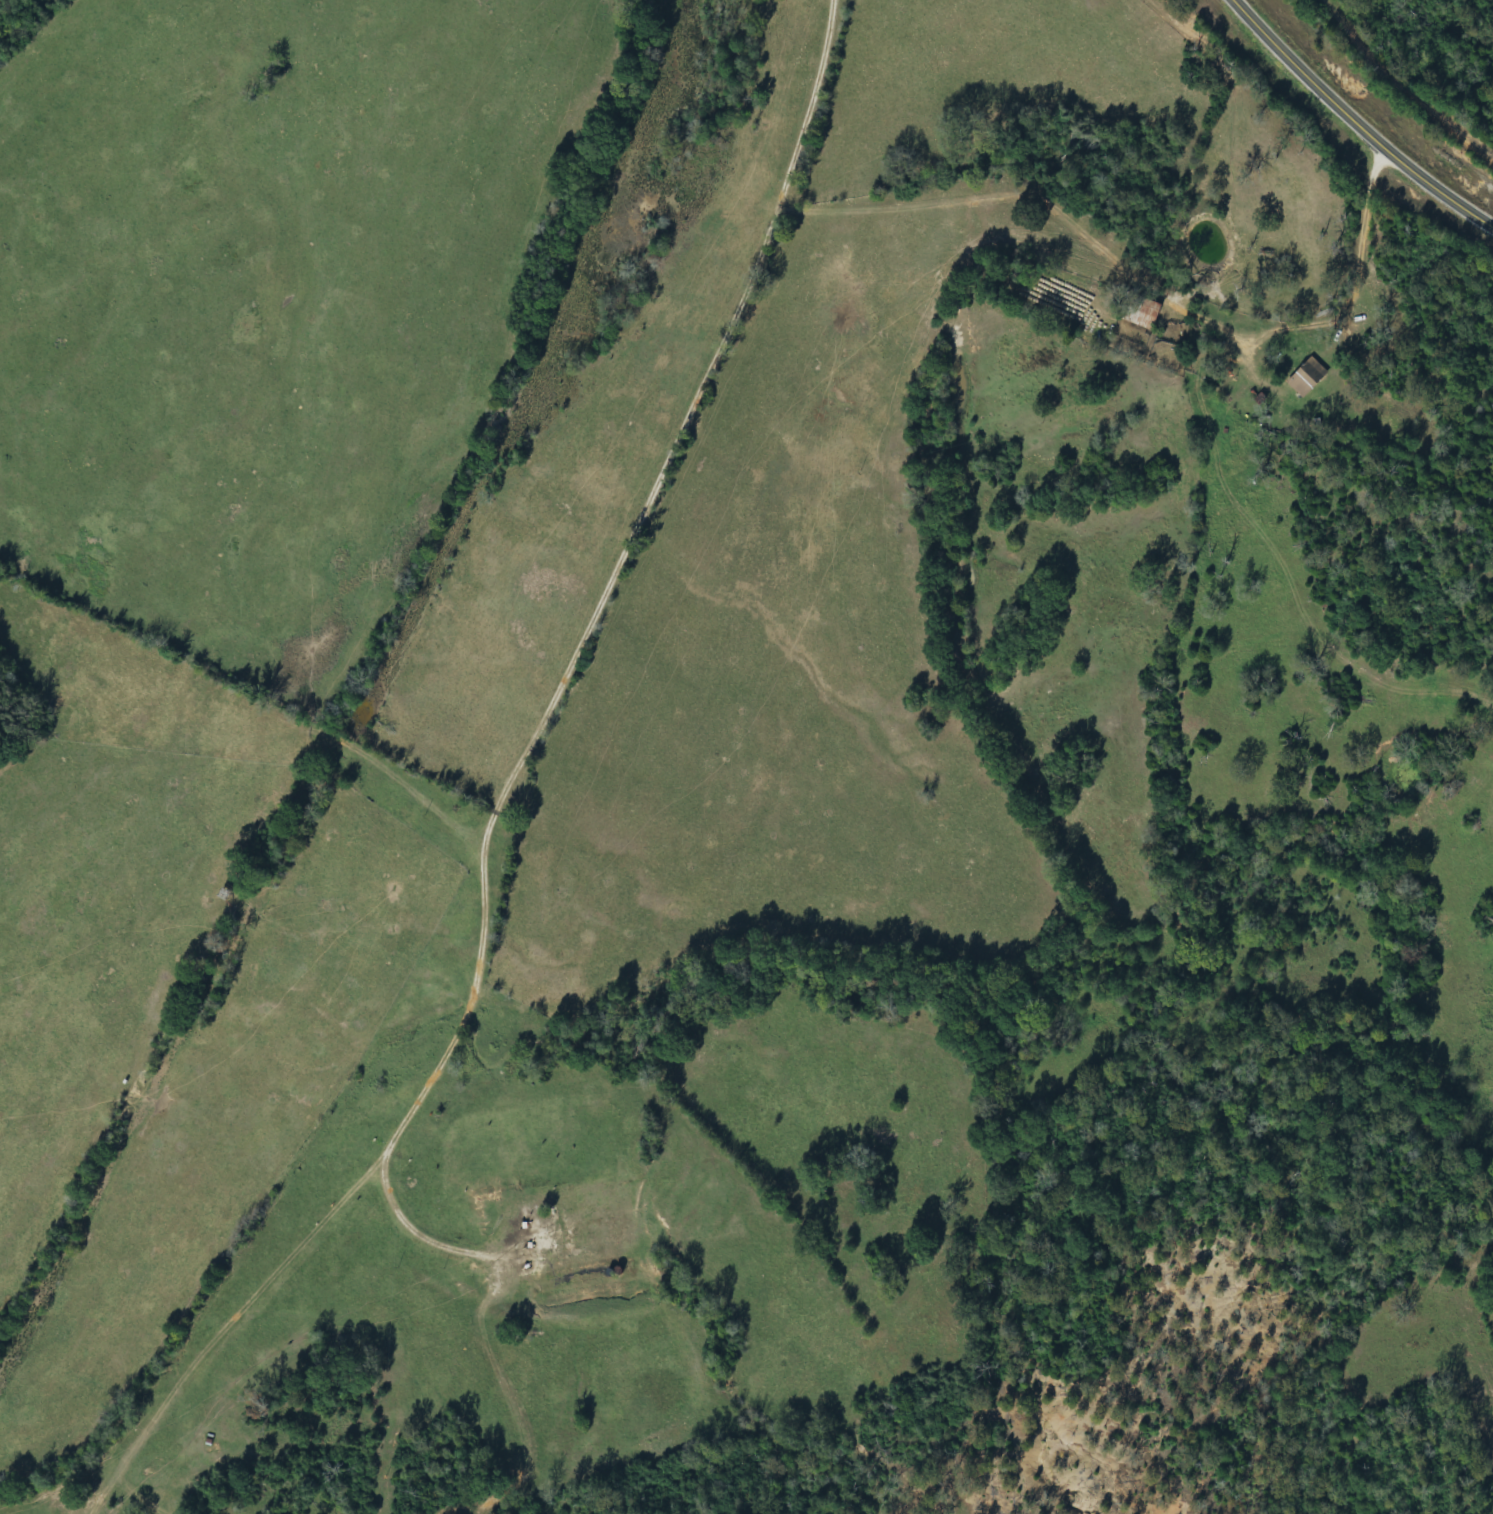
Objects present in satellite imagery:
road: (1356, 122)
building: (1143, 312)
building: (1310, 379)

